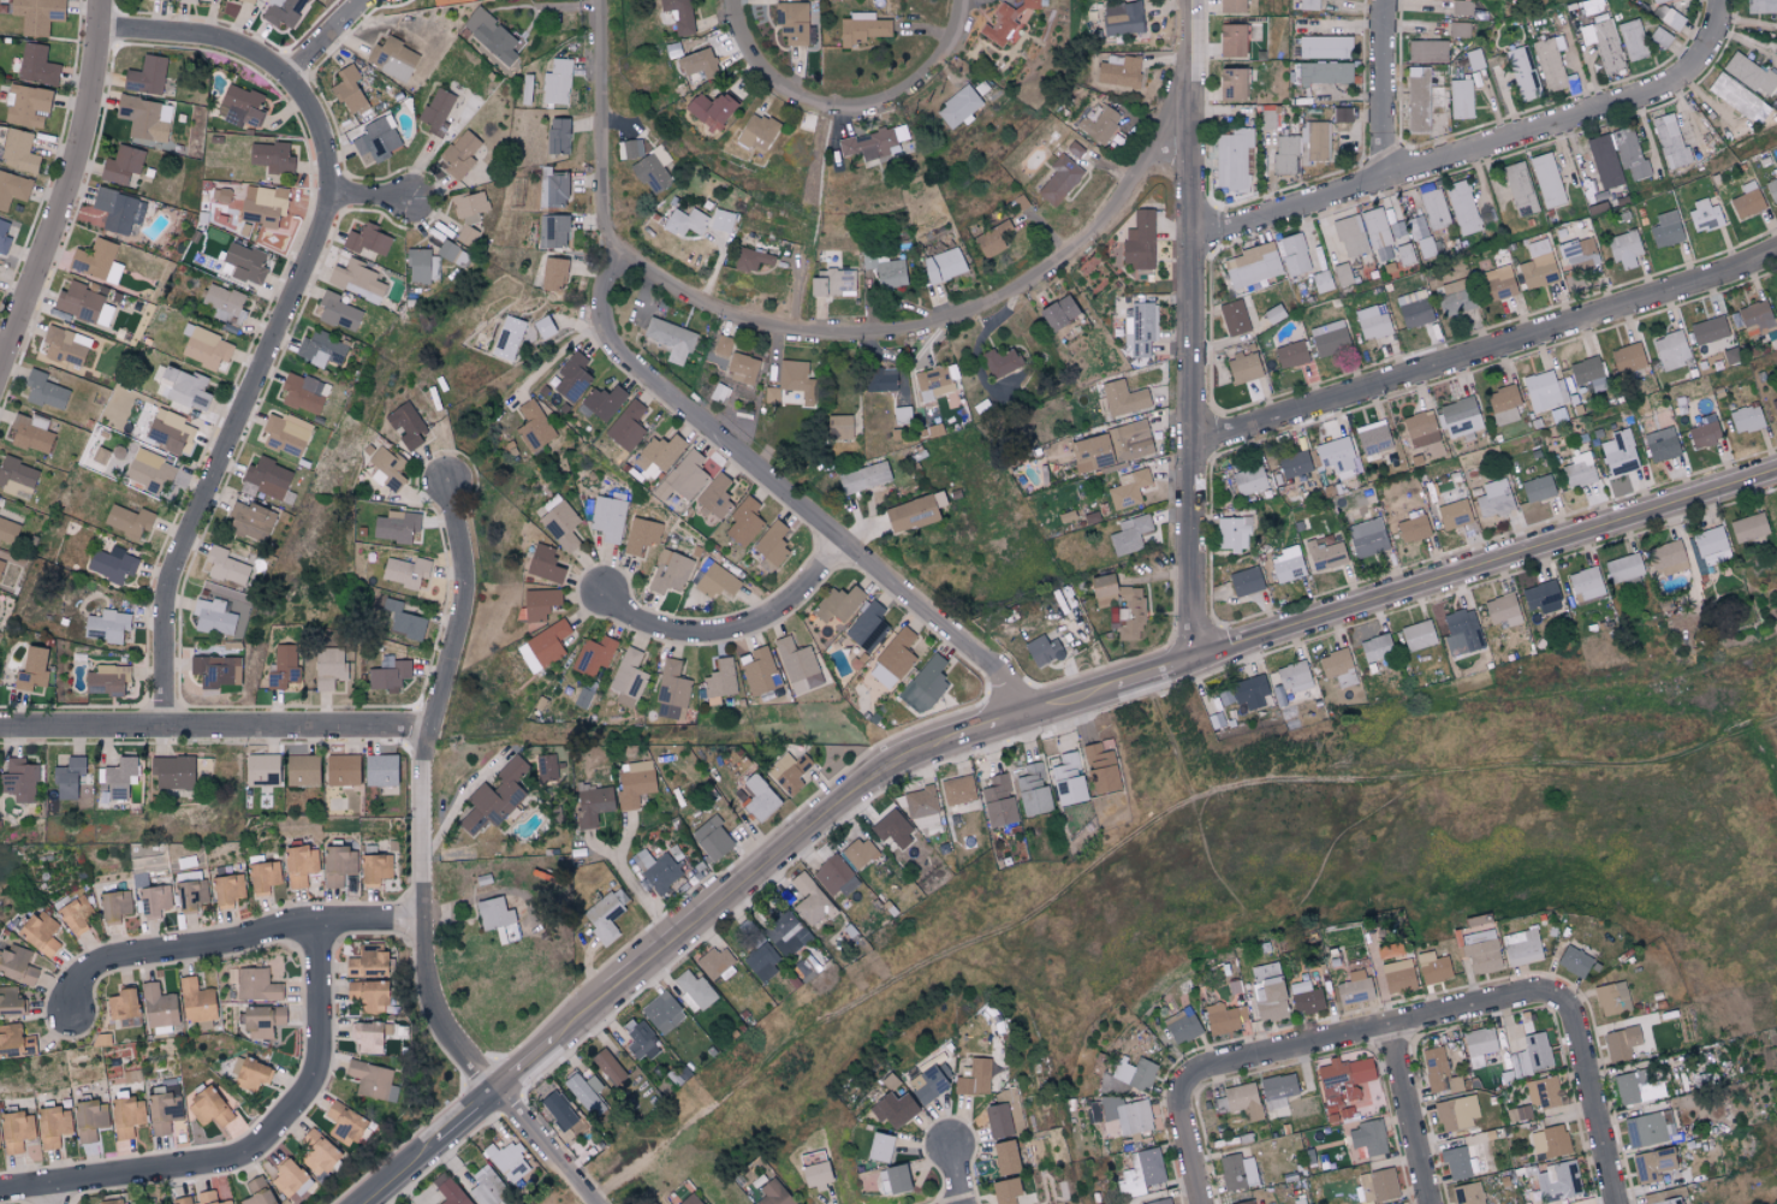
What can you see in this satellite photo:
building: (185, 0)
building: (249, 1)
building: (448, 1)
building: (1657, 1)
building: (1308, 4)
building: (1231, 6)
building: (1760, 6)
building: (1461, 7)
building: (281, 11)
building: (36, 14)
building: (678, 14)
building: (1668, 17)
building: (1122, 18)
building: (1006, 22)
building: (791, 23)
building: (861, 28)
building: (1457, 29)
building: (491, 35)
building: (1659, 37)
road: (319, 38)
building: (1632, 40)
building: (1231, 41)
building: (1603, 43)
building: (1325, 47)
building: (1426, 51)
building: (392, 59)
building: (697, 64)
building: (1549, 64)
building: (36, 65)
building: (1118, 71)
building: (1325, 72)
building: (1522, 72)
building: (1749, 73)
road: (926, 75)
building: (145, 76)
road: (771, 77)
building: (557, 82)
building: (1231, 84)
building: (349, 90)
road: (1385, 90)
building: (1734, 95)
building: (1416, 99)
building: (1460, 99)
building: (26, 105)
building: (239, 106)
building: (712, 107)
building: (958, 107)
building: (436, 112)
building: (1342, 114)
building: (142, 118)
building: (1099, 125)
building: (757, 132)
building: (557, 136)
building: (376, 138)
building: (1314, 140)
building: (1669, 142)
building: (868, 144)
building: (629, 149)
road: (1481, 149)
building: (18, 150)
building: (1629, 153)
building: (1284, 154)
building: (459, 155)
building: (271, 158)
building: (1232, 158)
building: (1603, 161)
building: (121, 165)
building: (650, 173)
building: (1059, 179)
building: (1546, 180)
building: (1772, 186)
building: (12, 189)
building: (552, 189)
building: (1520, 189)
road: (67, 191)
road: (369, 200)
building: (1746, 201)
building: (469, 203)
building: (262, 204)
building: (1462, 208)
building: (1434, 209)
building: (117, 210)
building: (1704, 217)
building: (470, 220)
building: (721, 221)
building: (685, 223)
building: (1416, 227)
building: (1665, 230)
building: (552, 231)
building: (1377, 235)
building: (465, 236)
building: (1350, 236)
building: (2, 238)
building: (994, 239)
building: (365, 241)
building: (1139, 241)
building: (1402, 248)
building: (1425, 248)
building: (1624, 249)
building: (448, 253)
building: (1294, 254)
building: (1579, 254)
building: (754, 257)
building: (96, 261)
building: (244, 262)
building: (1252, 265)
building: (944, 266)
building: (1538, 266)
building: (421, 267)
building: (886, 271)
building: (1341, 273)
building: (553, 274)
building: (356, 280)
building: (831, 281)
building: (1321, 281)
building: (1498, 284)
building: (1775, 297)
building: (1454, 298)
building: (83, 304)
building: (224, 304)
road: (287, 304)
building: (1413, 309)
building: (338, 312)
building: (1058, 313)
road: (949, 318)
building: (1234, 318)
building: (1755, 319)
building: (1372, 321)
building: (543, 327)
building: (1140, 330)
road: (1194, 331)
building: (1707, 331)
building: (507, 338)
building: (1329, 338)
building: (670, 339)
building: (64, 346)
building: (204, 346)
building: (721, 346)
building: (320, 349)
road: (1487, 349)
building: (1671, 350)
building: (1290, 355)
building: (1627, 358)
building: (1000, 362)
building: (742, 367)
building: (1243, 368)
building: (1587, 373)
building: (792, 375)
building: (572, 378)
building: (880, 380)
building: (933, 382)
building: (183, 389)
building: (43, 391)
building: (1544, 391)
building: (301, 393)
building: (771, 395)
building: (1119, 399)
building: (599, 404)
building: (1504, 405)
building: (1775, 408)
road: (697, 413)
building: (902, 415)
building: (1746, 419)
building: (405, 425)
building: (533, 426)
building: (626, 427)
building: (838, 427)
building: (1420, 429)
building: (168, 431)
building: (439, 431)
building: (1704, 432)
building: (30, 433)
building: (285, 434)
building: (1129, 440)
building: (1373, 440)
building: (1660, 445)
building: (1089, 453)
building: (1618, 453)
building: (99, 456)
building: (658, 456)
building: (1336, 456)
building: (1294, 464)
building: (386, 469)
building: (148, 470)
building: (1579, 470)
building: (17, 478)
building: (267, 478)
building: (683, 478)
building: (863, 478)
building: (1248, 480)
building: (1128, 490)
building: (1537, 490)
building: (715, 497)
building: (1493, 499)
building: (1776, 509)
building: (913, 512)
building: (1454, 515)
building: (607, 518)
building: (126, 521)
building: (250, 521)
building: (559, 523)
building: (743, 523)
building: (396, 526)
building: (1413, 527)
building: (1748, 528)
building: (7, 532)
building: (1232, 534)
building: (1129, 535)
building: (640, 536)
building: (1367, 538)
building: (1710, 546)
building: (772, 547)
building: (1325, 553)
building: (1666, 558)
building: (543, 563)
building: (0, 564)
building: (112, 564)
building: (1288, 564)
building: (225, 567)
road: (1486, 568)
building: (1623, 568)
building: (404, 571)
building: (668, 573)
building: (715, 581)
building: (1244, 582)
building: (1585, 585)
building: (1101, 587)
building: (1540, 595)
building: (537, 604)
building: (838, 604)
building: (1502, 610)
building: (1128, 615)
building: (213, 617)
building: (403, 621)
road: (729, 624)
building: (106, 627)
building: (867, 627)
building: (1461, 633)
building: (1418, 635)
building: (542, 646)
building: (1377, 648)
building: (1042, 651)
building: (897, 654)
building: (593, 656)
building: (797, 666)
building: (1336, 666)
building: (281, 668)
building: (328, 668)
building: (30, 670)
building: (215, 671)
building: (760, 672)
road: (1157, 674)
building: (388, 676)
building: (628, 678)
building: (720, 678)
building: (106, 680)
building: (1295, 681)
building: (925, 686)
building: (671, 690)
building: (1244, 693)
road: (1080, 696)
road: (999, 722)
road: (218, 725)
building: (546, 766)
building: (1101, 767)
building: (261, 769)
building: (301, 770)
building: (341, 770)
building: (380, 770)
building: (172, 771)
building: (788, 772)
building: (120, 776)
building: (67, 777)
building: (19, 779)
building: (1069, 779)
building: (634, 782)
building: (1033, 789)
building: (957, 790)
road: (436, 794)
building: (494, 796)
building: (759, 797)
building: (920, 801)
building: (998, 801)
building: (592, 805)
building: (892, 828)
building: (711, 838)
building: (857, 852)
building: (301, 864)
building: (339, 865)
building: (375, 868)
building: (656, 868)
building: (834, 876)
building: (263, 877)
road: (749, 878)
building: (351, 888)
building: (227, 889)
building: (194, 894)
road: (642, 895)
building: (154, 897)
building: (809, 900)
building: (115, 903)
building: (75, 913)
building: (602, 917)
building: (497, 918)
building: (40, 931)
building: (786, 933)
road: (239, 942)
building: (1369, 944)
building: (1521, 947)
building: (1480, 950)
building: (1573, 960)
building: (365, 962)
building: (761, 962)
building: (17, 963)
building: (714, 963)
building: (1433, 967)
building: (1398, 975)
building: (256, 984)
building: (1354, 986)
building: (695, 989)
building: (1268, 992)
building: (367, 995)
building: (1304, 997)
building: (1611, 997)
building: (10, 1001)
building: (196, 1001)
building: (121, 1003)
building: (159, 1008)
building: (662, 1012)
building: (1224, 1018)
building: (261, 1020)
building: (1181, 1025)
road: (1368, 1028)
building: (368, 1036)
building: (636, 1039)
building: (14, 1040)
building: (1619, 1043)
building: (1479, 1045)
building: (1534, 1052)
building: (608, 1066)
road: (530, 1068)
building: (1438, 1072)
building: (1134, 1073)
building: (250, 1074)
building: (973, 1077)
building: (372, 1080)
building: (1345, 1081)
building: (929, 1083)
building: (594, 1084)
building: (1628, 1087)
building: (1277, 1089)
building: (581, 1091)
building: (1541, 1092)
road: (1588, 1098)
building: (1240, 1101)
building: (208, 1105)
building: (895, 1108)
building: (558, 1109)
building: (162, 1110)
building: (1456, 1111)
road: (1408, 1114)
building: (126, 1115)
building: (1133, 1116)
road: (473, 1117)
building: (89, 1120)
building: (998, 1120)
building: (343, 1123)
building: (52, 1126)
building: (1644, 1129)
building: (16, 1131)
building: (1368, 1137)
road: (1185, 1143)
building: (879, 1146)
road: (549, 1147)
road: (250, 1151)
building: (316, 1152)
building: (1005, 1157)
building: (509, 1162)
building: (1455, 1162)
building: (1652, 1164)
building: (1236, 1170)
building: (1139, 1173)
road: (406, 1174)
building: (815, 1174)
road: (955, 1175)
building: (892, 1178)
building: (289, 1179)
building: (1558, 1181)
building: (1377, 1185)
building: (487, 1186)
building: (448, 1190)
building: (1004, 1190)
building: (256, 1192)
building: (773, 1193)
building: (1467, 1193)
road: (55, 1194)
building: (209, 1198)
building: (690, 1199)
building: (180, 1200)
building: (111, 1202)
building: (1159, 1202)
building: (1244, 1202)
building: (1664, 1202)
building: (1397, 1203)

